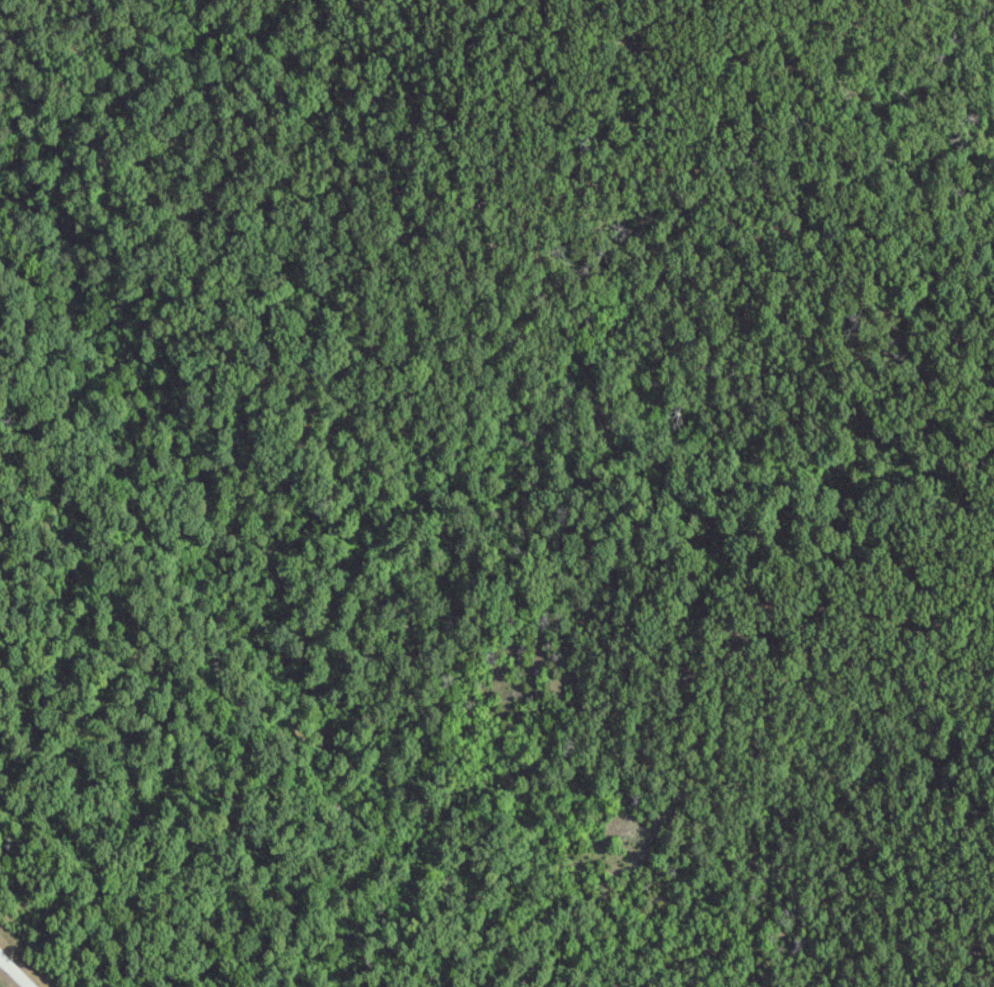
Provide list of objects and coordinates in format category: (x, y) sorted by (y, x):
road: (19, 965)

